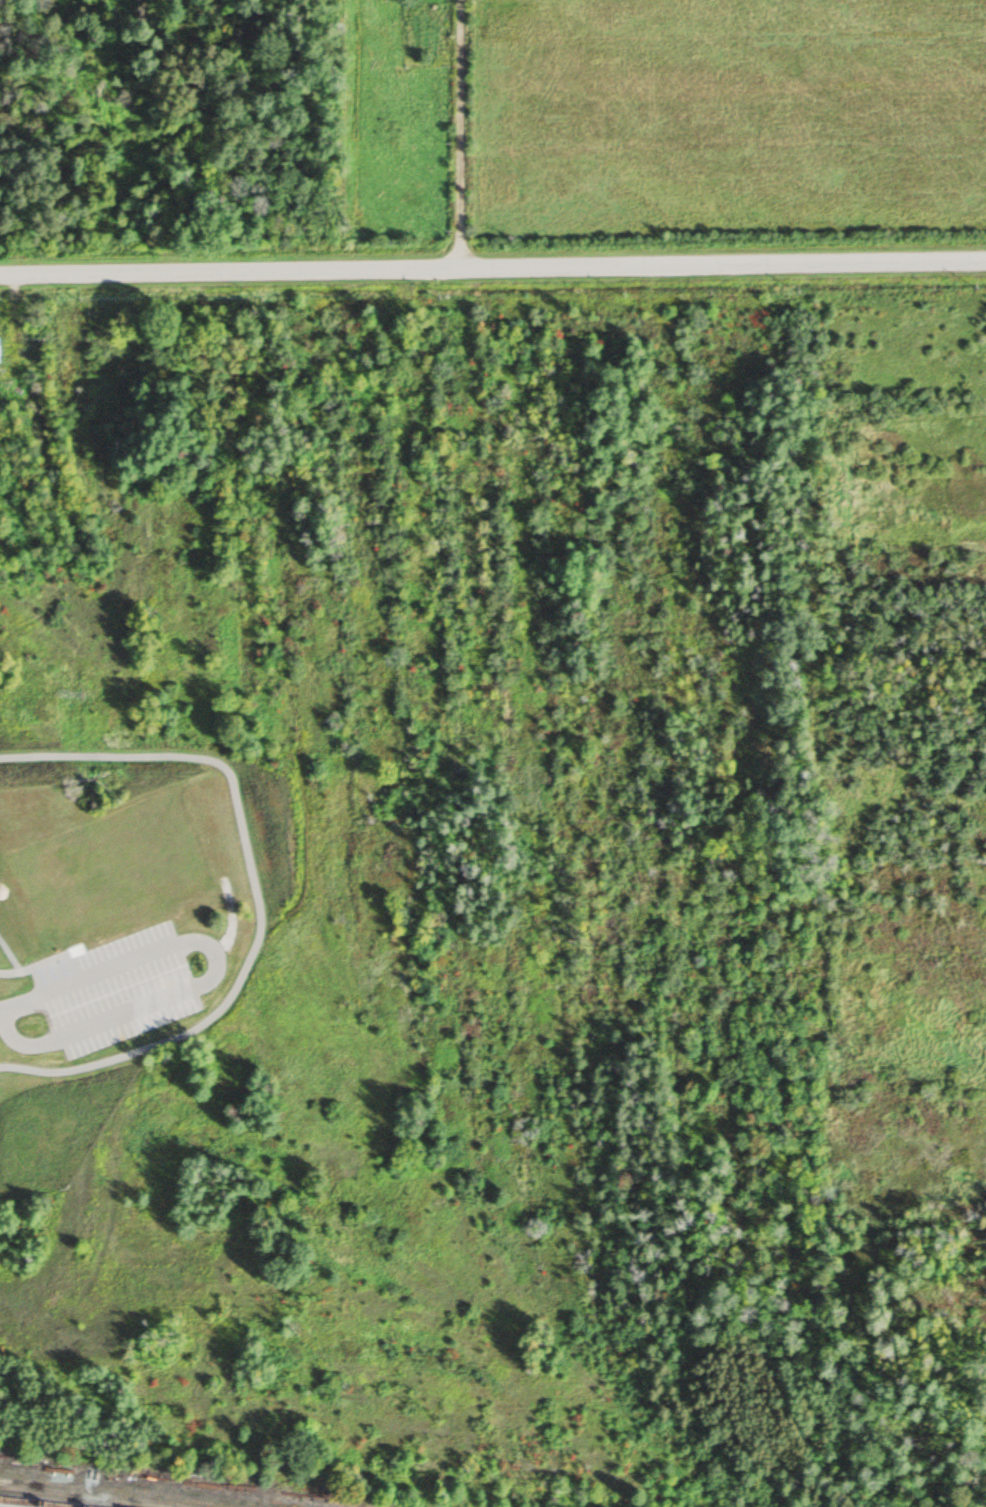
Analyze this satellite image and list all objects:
road: (456, 133)
road: (493, 266)
railway: (27, 1503)

